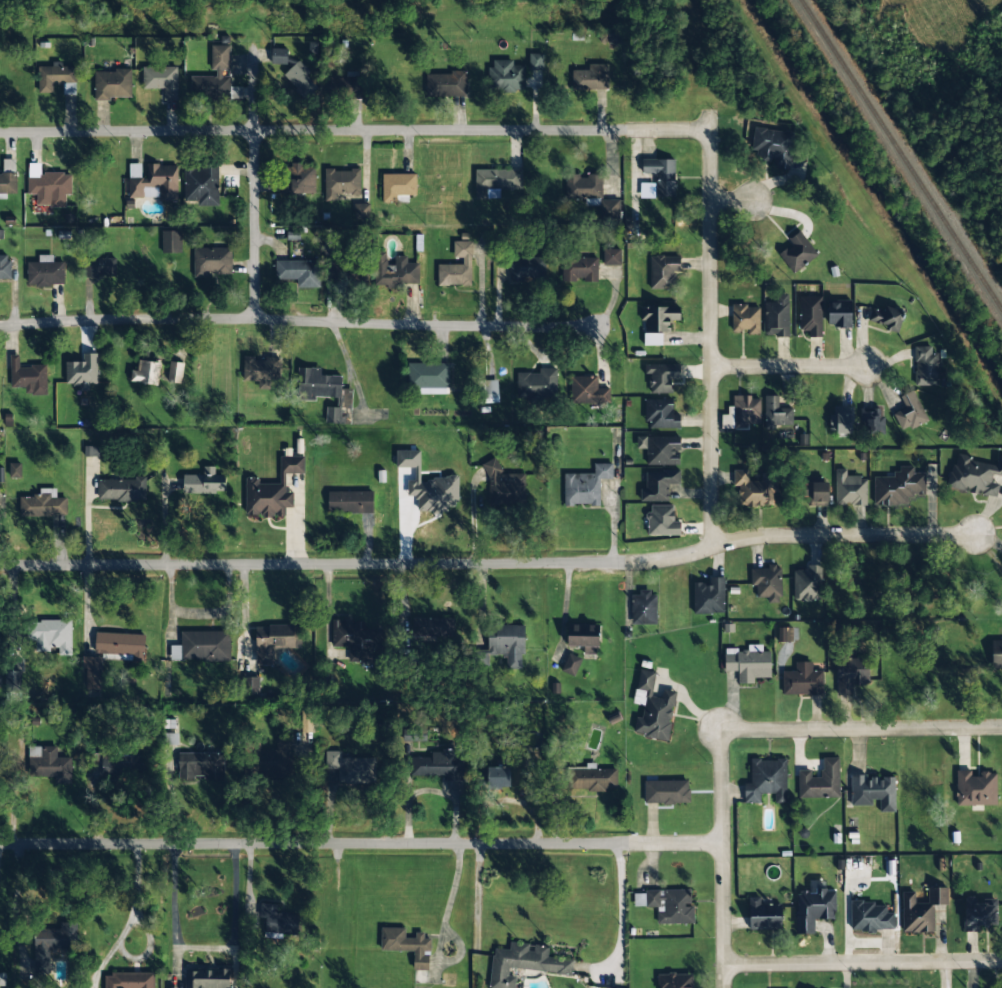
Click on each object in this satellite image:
building: (536, 62)
building: (291, 69)
building: (505, 76)
building: (57, 78)
building: (590, 78)
building: (215, 79)
building: (161, 80)
building: (112, 84)
building: (446, 84)
building: (346, 86)
road: (390, 131)
building: (774, 147)
railway: (900, 155)
building: (661, 175)
building: (301, 178)
building: (153, 182)
building: (496, 182)
road: (254, 184)
building: (201, 185)
building: (583, 186)
building: (398, 187)
building: (49, 188)
building: (346, 189)
road: (731, 200)
building: (610, 209)
building: (171, 242)
building: (798, 252)
building: (611, 256)
building: (212, 261)
building: (457, 266)
building: (4, 267)
building: (100, 267)
building: (526, 268)
building: (579, 269)
building: (45, 272)
building: (299, 272)
building: (395, 272)
building: (663, 272)
building: (839, 314)
building: (810, 316)
building: (776, 317)
building: (745, 318)
building: (887, 318)
road: (294, 321)
building: (657, 322)
building: (925, 366)
road: (788, 367)
building: (262, 371)
building: (81, 372)
building: (146, 372)
building: (175, 372)
road: (711, 372)
building: (28, 377)
building: (429, 377)
building: (661, 377)
building: (537, 383)
building: (323, 386)
building: (490, 391)
building: (587, 391)
building: (746, 411)
building: (776, 413)
building: (909, 413)
building: (660, 414)
building: (333, 415)
building: (841, 420)
building: (872, 421)
building: (660, 449)
building: (91, 451)
building: (15, 470)
building: (1, 474)
building: (974, 475)
building: (204, 482)
building: (427, 485)
building: (658, 485)
building: (504, 486)
building: (585, 486)
building: (898, 487)
building: (754, 489)
building: (849, 489)
building: (121, 490)
building: (271, 491)
building: (816, 494)
building: (43, 504)
building: (354, 506)
building: (662, 521)
road: (489, 563)
building: (767, 582)
building: (807, 584)
building: (709, 596)
building: (643, 608)
building: (432, 628)
building: (784, 634)
building: (51, 635)
building: (583, 637)
building: (355, 639)
building: (275, 641)
building: (507, 644)
building: (119, 645)
building: (202, 646)
building: (996, 654)
building: (748, 663)
building: (571, 664)
building: (92, 673)
building: (850, 674)
building: (802, 680)
building: (251, 686)
building: (652, 708)
building: (306, 719)
road: (861, 730)
building: (170, 738)
building: (415, 738)
building: (275, 757)
building: (49, 764)
building: (114, 765)
building: (439, 765)
building: (201, 766)
building: (351, 768)
building: (498, 777)
building: (591, 778)
building: (766, 780)
building: (820, 781)
building: (975, 789)
building: (666, 792)
building: (873, 792)
road: (361, 843)
road: (723, 859)
road: (478, 894)
building: (671, 906)
building: (813, 909)
building: (921, 910)
road: (619, 911)
building: (979, 913)
building: (763, 915)
building: (870, 917)
road: (439, 930)
building: (53, 943)
road: (204, 948)
building: (409, 950)
building: (524, 963)
road: (863, 963)
building: (207, 978)
building: (129, 980)
building: (675, 980)

